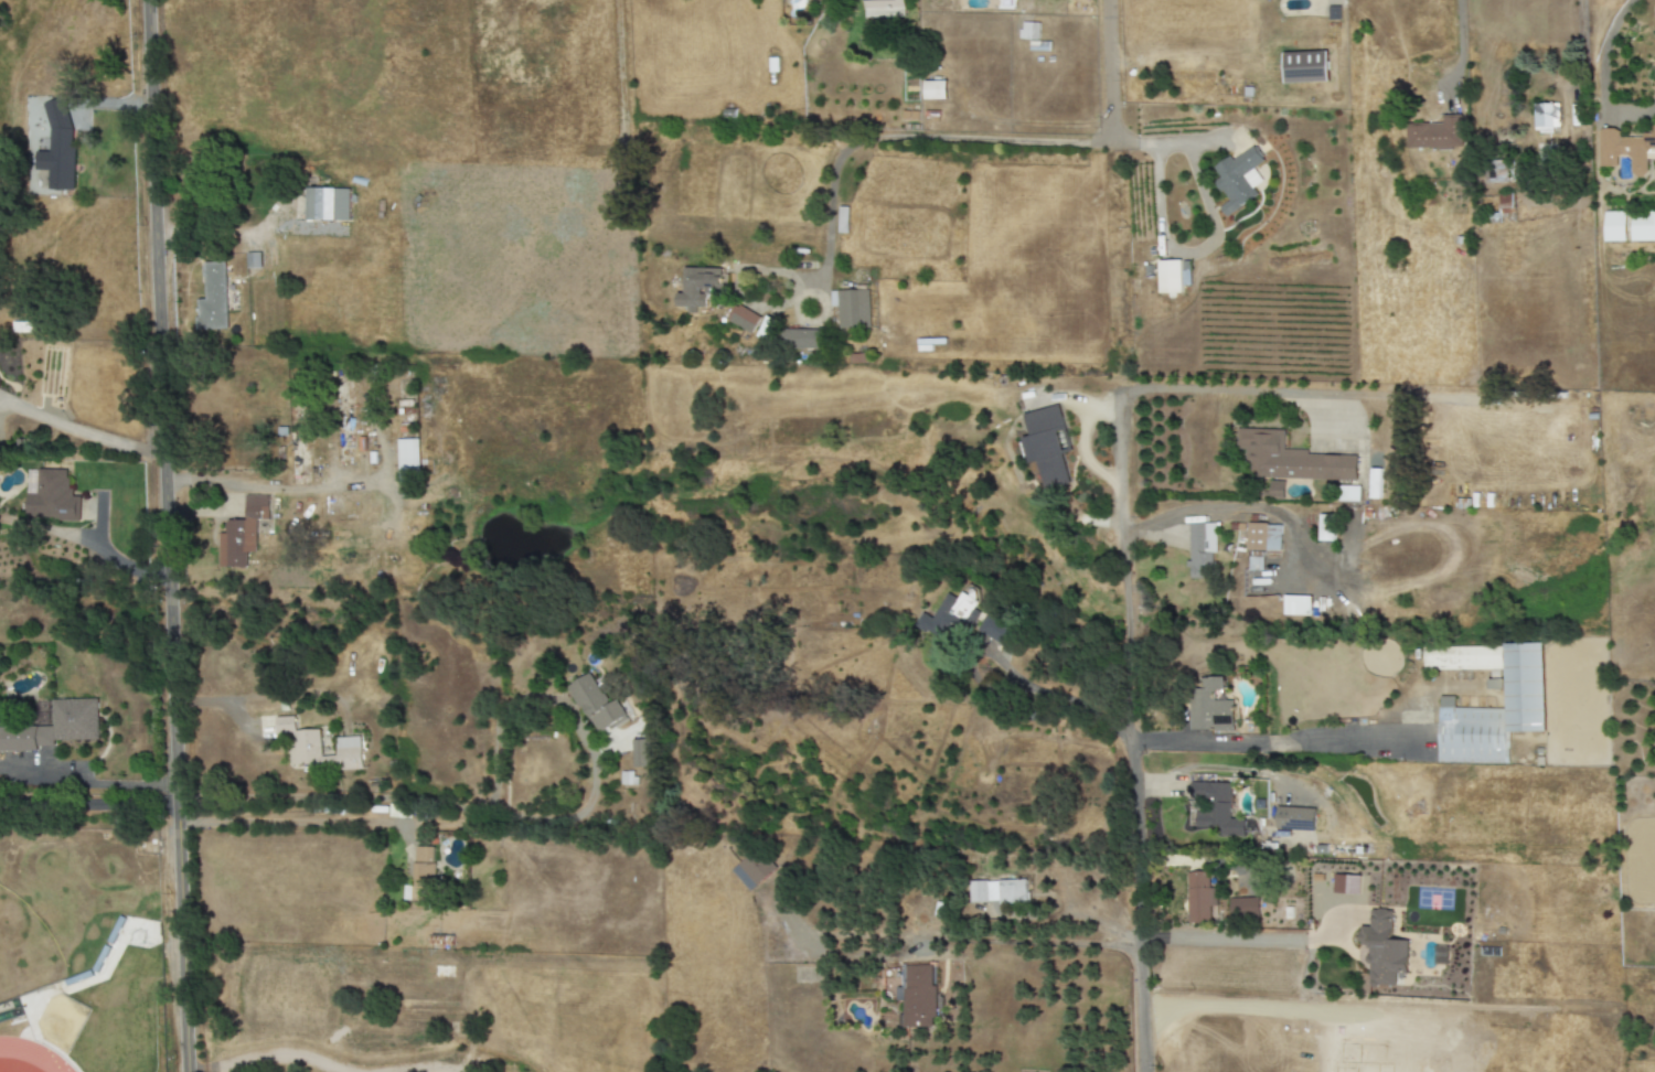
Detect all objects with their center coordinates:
building: (879, 7)
road: (1583, 21)
road: (1458, 28)
building: (1028, 31)
building: (1304, 67)
road: (1109, 71)
road: (1601, 77)
building: (933, 90)
road: (1654, 103)
building: (77, 118)
building: (1544, 119)
building: (1437, 136)
road: (999, 139)
building: (57, 148)
building: (1625, 150)
building: (1497, 171)
building: (1236, 178)
building: (325, 204)
building: (1643, 227)
building: (1615, 228)
road: (1215, 231)
building: (1170, 277)
road: (812, 279)
building: (697, 287)
building: (212, 299)
building: (853, 309)
building: (741, 318)
building: (798, 341)
road: (1216, 393)
road: (83, 432)
building: (1047, 446)
building: (1289, 458)
road: (270, 484)
building: (1275, 491)
building: (51, 496)
road: (1222, 503)
building: (241, 533)
road: (170, 535)
building: (1256, 537)
building: (1273, 540)
road: (88, 542)
building: (1200, 549)
building: (1295, 605)
building: (994, 629)
building: (1462, 657)
building: (1523, 687)
road: (1057, 696)
road: (255, 697)
building: (596, 706)
building: (1210, 707)
building: (54, 727)
road: (1133, 731)
building: (1473, 735)
road: (1268, 743)
building: (640, 753)
road: (86, 785)
road: (86, 801)
building: (1216, 806)
road: (521, 816)
building: (1296, 819)
road: (289, 821)
building: (1321, 849)
building: (996, 891)
building: (1200, 900)
building: (1242, 907)
road: (1158, 937)
road: (1035, 942)
building: (1382, 948)
building: (918, 997)
track: (31, 1054)

